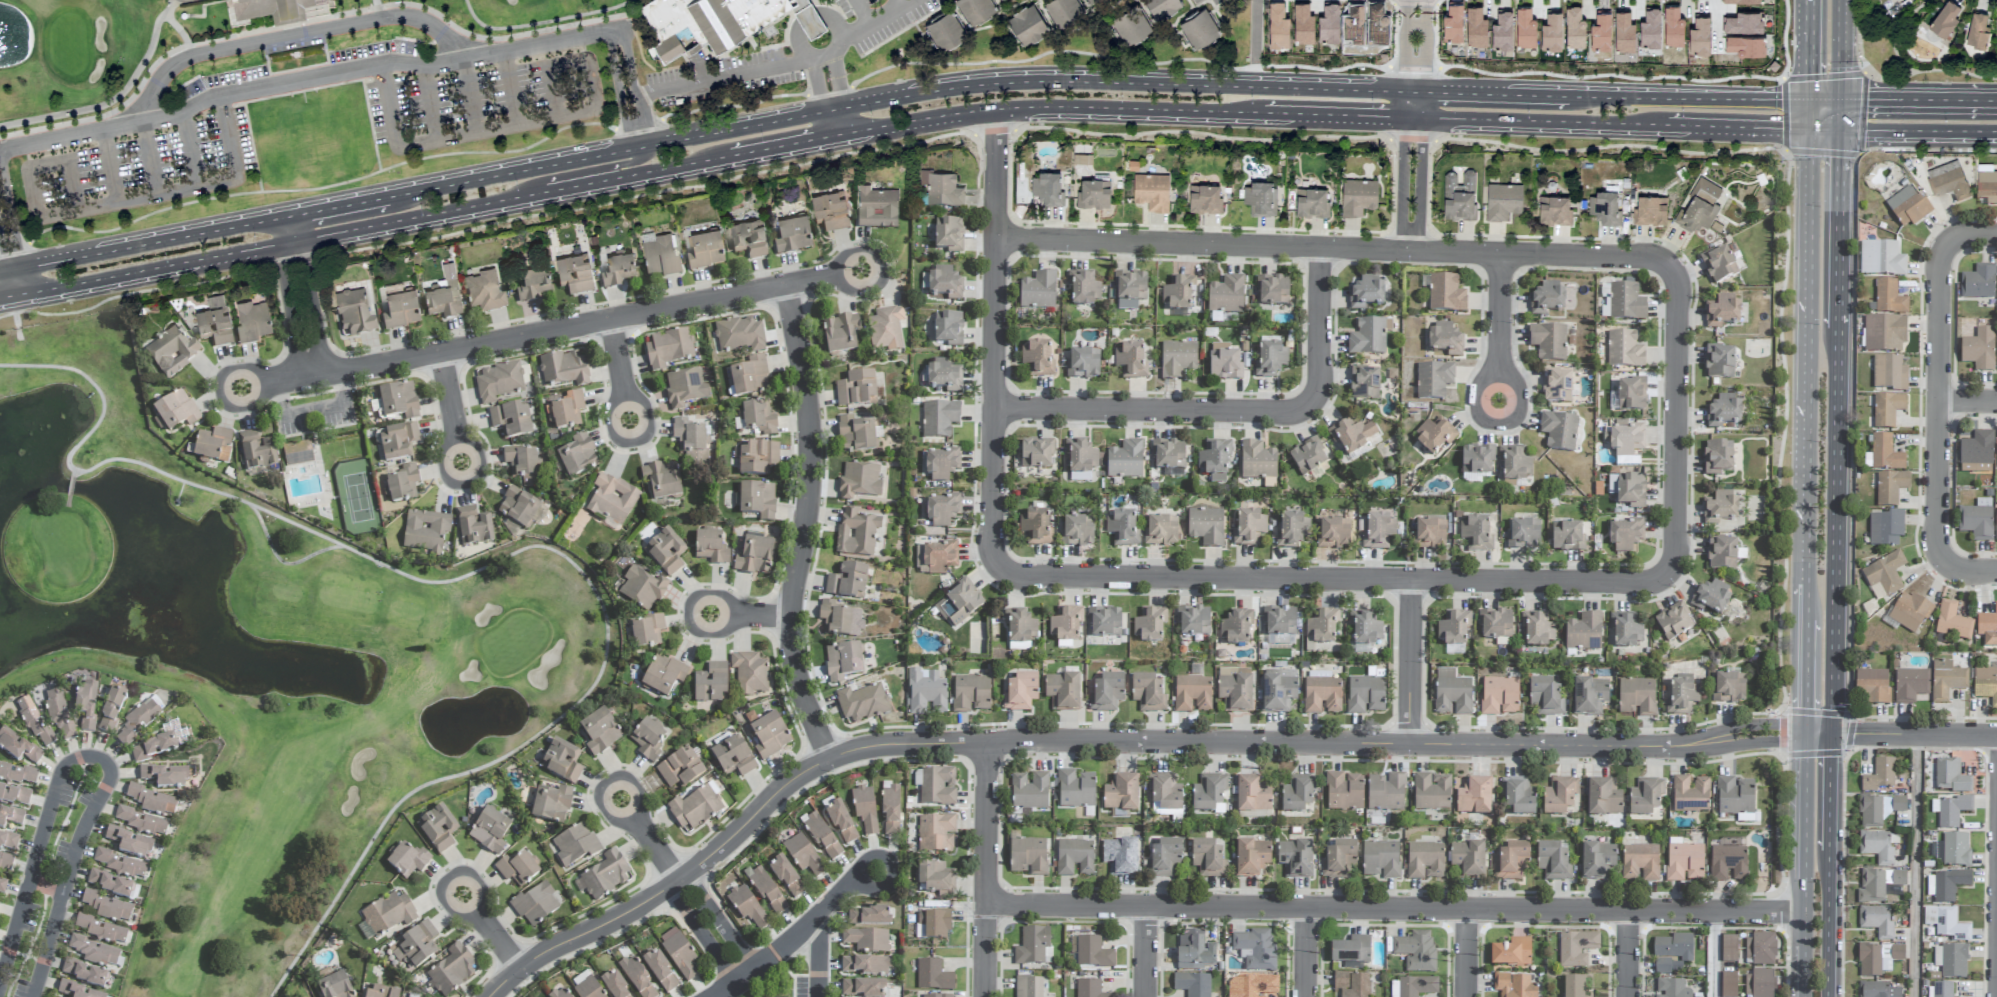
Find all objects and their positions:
road: (177, 1)
building: (1088, 1)
building: (1742, 1)
road: (900, 2)
road: (169, 6)
building: (1161, 7)
road: (203, 9)
building: (974, 9)
building: (1061, 9)
building: (266, 10)
road: (861, 12)
building: (182, 15)
building: (743, 18)
building: (1944, 19)
road: (540, 22)
building: (1742, 22)
building: (1302, 23)
building: (1328, 23)
building: (1452, 23)
building: (1026, 24)
building: (1130, 25)
building: (1277, 26)
building: (1672, 26)
building: (1475, 27)
building: (1524, 27)
building: (1574, 27)
road: (176, 28)
building: (671, 28)
building: (1198, 28)
building: (1649, 28)
road: (858, 30)
building: (1501, 30)
building: (1976, 30)
building: (944, 31)
building: (1550, 31)
building: (1623, 31)
building: (1600, 32)
road: (292, 34)
road: (797, 34)
building: (1699, 35)
road: (615, 38)
building: (1996, 40)
road: (1253, 43)
building: (1745, 45)
road: (1416, 46)
road: (1808, 50)
road: (1840, 50)
road: (307, 78)
road: (722, 78)
road: (836, 83)
road: (508, 87)
road: (817, 88)
park: (282, 89)
road: (468, 94)
road: (1488, 94)
road: (895, 98)
road: (1683, 98)
traffic signals: (1808, 101)
road: (1824, 101)
road: (108, 102)
road: (428, 102)
traffic signals: (1840, 102)
road: (1918, 103)
road: (1416, 105)
road: (1251, 112)
road: (1807, 115)
road: (1839, 116)
road: (528, 122)
road: (835, 123)
road: (1737, 127)
traffic signals: (1807, 129)
road: (1823, 129)
traffic signals: (1839, 130)
road: (1918, 131)
road: (634, 134)
road: (785, 146)
road: (188, 149)
road: (149, 157)
building: (1082, 158)
road: (594, 168)
road: (1401, 182)
road: (1422, 183)
road: (31, 184)
building: (1949, 184)
building: (1986, 184)
road: (181, 188)
building: (1046, 189)
building: (941, 190)
building: (1151, 191)
building: (1093, 193)
building: (1357, 196)
building: (1459, 196)
road: (510, 197)
building: (1204, 198)
building: (1258, 198)
building: (1502, 201)
building: (1310, 202)
building: (1698, 206)
building: (1908, 207)
road: (334, 208)
building: (876, 208)
building: (1604, 208)
building: (1553, 210)
building: (1649, 210)
building: (829, 211)
road: (1806, 216)
road: (11, 218)
road: (1838, 229)
road: (287, 230)
building: (792, 234)
road: (1977, 235)
building: (949, 236)
building: (747, 239)
road: (149, 244)
road: (1333, 249)
building: (704, 250)
road: (857, 253)
road: (4, 254)
building: (659, 257)
building: (1881, 260)
building: (1719, 265)
road: (154, 269)
building: (617, 270)
road: (6, 271)
building: (573, 274)
road: (15, 282)
building: (532, 283)
building: (1978, 283)
road: (864, 288)
building: (1083, 289)
building: (1130, 290)
building: (1038, 291)
building: (1273, 291)
building: (484, 292)
building: (1179, 293)
building: (1366, 293)
building: (444, 295)
building: (1226, 295)
building: (1446, 295)
road: (9, 296)
building: (1546, 298)
building: (1889, 298)
building: (1626, 303)
road: (313, 305)
building: (400, 309)
road: (287, 310)
building: (1722, 311)
building: (354, 313)
road: (1501, 319)
road: (590, 321)
building: (252, 322)
building: (213, 326)
building: (885, 329)
building: (948, 329)
road: (994, 331)
road: (1321, 332)
building: (840, 334)
building: (1884, 334)
building: (739, 335)
building: (1369, 337)
building: (1445, 340)
building: (1548, 342)
building: (670, 349)
building: (1624, 350)
building: (1979, 350)
building: (172, 351)
road: (619, 359)
building: (1177, 359)
building: (1037, 360)
building: (1131, 361)
building: (1271, 361)
building: (1719, 362)
building: (1225, 364)
building: (1083, 365)
building: (564, 369)
building: (1889, 373)
building: (944, 376)
road: (308, 377)
building: (749, 377)
building: (501, 381)
building: (1433, 381)
road: (269, 383)
building: (1364, 384)
building: (1556, 386)
road: (342, 388)
building: (685, 388)
building: (856, 389)
road: (224, 391)
building: (1631, 395)
road: (449, 397)
road: (1941, 398)
building: (399, 401)
road: (1481, 401)
road: (1516, 402)
road: (1969, 403)
building: (1887, 410)
building: (567, 411)
building: (1723, 411)
building: (175, 412)
road: (297, 412)
road: (1150, 412)
road: (648, 417)
building: (759, 418)
building: (939, 419)
road: (1674, 419)
building: (511, 421)
road: (611, 424)
building: (1559, 431)
building: (856, 435)
building: (1351, 436)
building: (1434, 436)
building: (1626, 441)
building: (397, 442)
building: (690, 442)
road: (1805, 444)
building: (1996, 445)
building: (211, 446)
building: (257, 451)
building: (1976, 453)
building: (297, 454)
building: (1036, 454)
building: (1885, 454)
building: (1169, 455)
building: (577, 456)
building: (1081, 457)
building: (1307, 457)
road: (481, 458)
building: (757, 458)
building: (1214, 458)
building: (1718, 458)
building: (1125, 460)
building: (1477, 460)
building: (1257, 461)
building: (941, 464)
building: (1515, 464)
road: (443, 466)
road: (72, 473)
building: (662, 481)
building: (859, 481)
road: (70, 486)
building: (1890, 487)
building: (1628, 491)
building: (611, 500)
road: (68, 501)
building: (757, 501)
building: (1719, 508)
building: (519, 511)
building: (943, 511)
building: (1976, 520)
road: (807, 522)
building: (1996, 525)
building: (1206, 526)
building: (474, 527)
building: (1036, 528)
building: (1885, 528)
building: (1122, 529)
building: (1249, 529)
road: (1834, 530)
building: (1293, 531)
building: (426, 532)
building: (1077, 532)
building: (1161, 532)
building: (1379, 532)
building: (856, 533)
building: (1430, 533)
building: (1476, 534)
building: (1334, 535)
building: (1524, 535)
building: (1625, 535)
building: (1567, 537)
building: (710, 548)
building: (665, 552)
building: (1722, 554)
road: (508, 555)
building: (939, 557)
road: (279, 560)
road: (1970, 572)
building: (1885, 574)
road: (1324, 577)
building: (847, 582)
building: (642, 589)
road: (711, 595)
building: (1711, 597)
building: (963, 602)
building: (1909, 612)
road: (761, 616)
building: (840, 620)
building: (1194, 622)
building: (1673, 622)
building: (1952, 622)
building: (1105, 623)
building: (1066, 624)
building: (1149, 625)
building: (1495, 625)
building: (1020, 626)
building: (1323, 626)
building: (1988, 627)
building: (1235, 628)
building: (1453, 628)
building: (1625, 630)
road: (710, 631)
building: (1536, 631)
building: (646, 632)
building: (1365, 632)
building: (1584, 633)
park: (263, 655)
road: (1407, 659)
road: (1805, 659)
building: (842, 662)
building: (749, 673)
building: (664, 675)
building: (1946, 680)
building: (710, 684)
building: (1911, 685)
building: (1986, 685)
building: (1872, 686)
building: (1729, 688)
building: (1235, 689)
building: (1278, 691)
building: (926, 692)
building: (1020, 692)
building: (1062, 692)
building: (1452, 692)
building: (1107, 693)
building: (1148, 693)
building: (1322, 693)
building: (971, 694)
building: (1192, 694)
building: (1365, 695)
building: (1499, 696)
building: (1589, 696)
building: (1682, 696)
building: (1545, 697)
building: (1637, 697)
building: (862, 703)
building: (85, 704)
building: (111, 710)
building: (58, 713)
building: (33, 721)
building: (138, 721)
road: (1739, 726)
building: (600, 732)
traffic signals: (1805, 732)
road: (1818, 732)
traffic signals: (1832, 732)
road: (1914, 733)
building: (769, 735)
building: (648, 740)
road: (1251, 742)
road: (1741, 744)
building: (18, 747)
building: (153, 748)
road: (97, 757)
building: (732, 757)
building: (562, 762)
building: (680, 769)
building: (16, 774)
building: (165, 776)
building: (1879, 776)
building: (1951, 777)
building: (937, 787)
road: (635, 788)
building: (1076, 789)
building: (1029, 791)
building: (1344, 791)
building: (1165, 792)
building: (1386, 792)
building: (1431, 792)
road: (1830, 792)
building: (1121, 793)
building: (1209, 793)
building: (1297, 794)
building: (1690, 794)
building: (1252, 795)
building: (14, 796)
building: (1518, 796)
building: (1559, 796)
building: (1645, 796)
building: (1735, 796)
building: (1474, 797)
building: (1603, 799)
building: (152, 800)
building: (551, 804)
building: (1898, 804)
building: (864, 809)
building: (890, 809)
road: (606, 810)
building: (1951, 811)
building: (1870, 812)
building: (10, 816)
building: (142, 822)
building: (841, 823)
road: (1805, 823)
building: (438, 830)
building: (490, 831)
building: (936, 833)
building: (822, 838)
building: (8, 842)
building: (130, 843)
building: (575, 846)
building: (1877, 848)
building: (1956, 850)
building: (803, 855)
building: (1028, 856)
building: (1074, 857)
building: (1120, 857)
building: (1252, 858)
building: (1164, 859)
building: (1208, 859)
building: (1295, 859)
building: (1340, 860)
building: (1380, 860)
building: (1468, 860)
building: (408, 861)
building: (1425, 861)
building: (1597, 861)
building: (1512, 862)
building: (1553, 862)
building: (1684, 862)
building: (6, 863)
building: (1640, 863)
building: (1728, 863)
building: (120, 865)
road: (1915, 865)
building: (517, 869)
road: (989, 870)
building: (606, 875)
building: (787, 878)
building: (936, 878)
building: (109, 884)
road: (479, 884)
building: (1877, 885)
building: (1949, 885)
road: (44, 887)
building: (2, 888)
road: (670, 890)
building: (766, 891)
road: (690, 895)
building: (535, 905)
road: (449, 906)
building: (108, 907)
building: (747, 907)
building: (393, 911)
road: (1396, 911)
building: (868, 917)
building: (1876, 922)
road: (1827, 924)
building: (1946, 924)
building: (932, 925)
building: (102, 930)
road: (811, 930)
road: (498, 939)
building: (866, 940)
building: (415, 945)
building: (1033, 947)
building: (1674, 947)
building: (1576, 949)
building: (1729, 949)
building: (1760, 949)
building: (1255, 950)
building: (1351, 950)
building: (1195, 951)
building: (1416, 951)
building: (95, 952)
road: (1146, 952)
building: (1093, 953)
road: (1306, 953)
building: (1511, 953)
building: (679, 954)
road: (1469, 954)
road: (1627, 955)
road: (1716, 955)
road: (1803, 955)
building: (1878, 959)
road: (819, 960)
building: (1954, 961)
building: (865, 965)
building: (1662, 966)
building: (452, 970)
building: (660, 972)
building: (84, 973)
building: (933, 976)
building: (637, 978)
building: (1192, 984)
building: (1352, 984)
building: (1760, 984)
building: (615, 985)
building: (334, 986)
building: (1252, 986)
building: (1514, 986)
building: (1029, 987)
building: (1417, 987)
building: (1574, 987)
building: (862, 988)
building: (588, 989)
building: (1090, 989)
building: (1394, 989)
building: (1672, 989)
building: (1942, 989)
building: (1878, 990)
building: (77, 991)
building: (380, 992)
building: (557, 993)
building: (938, 996)

